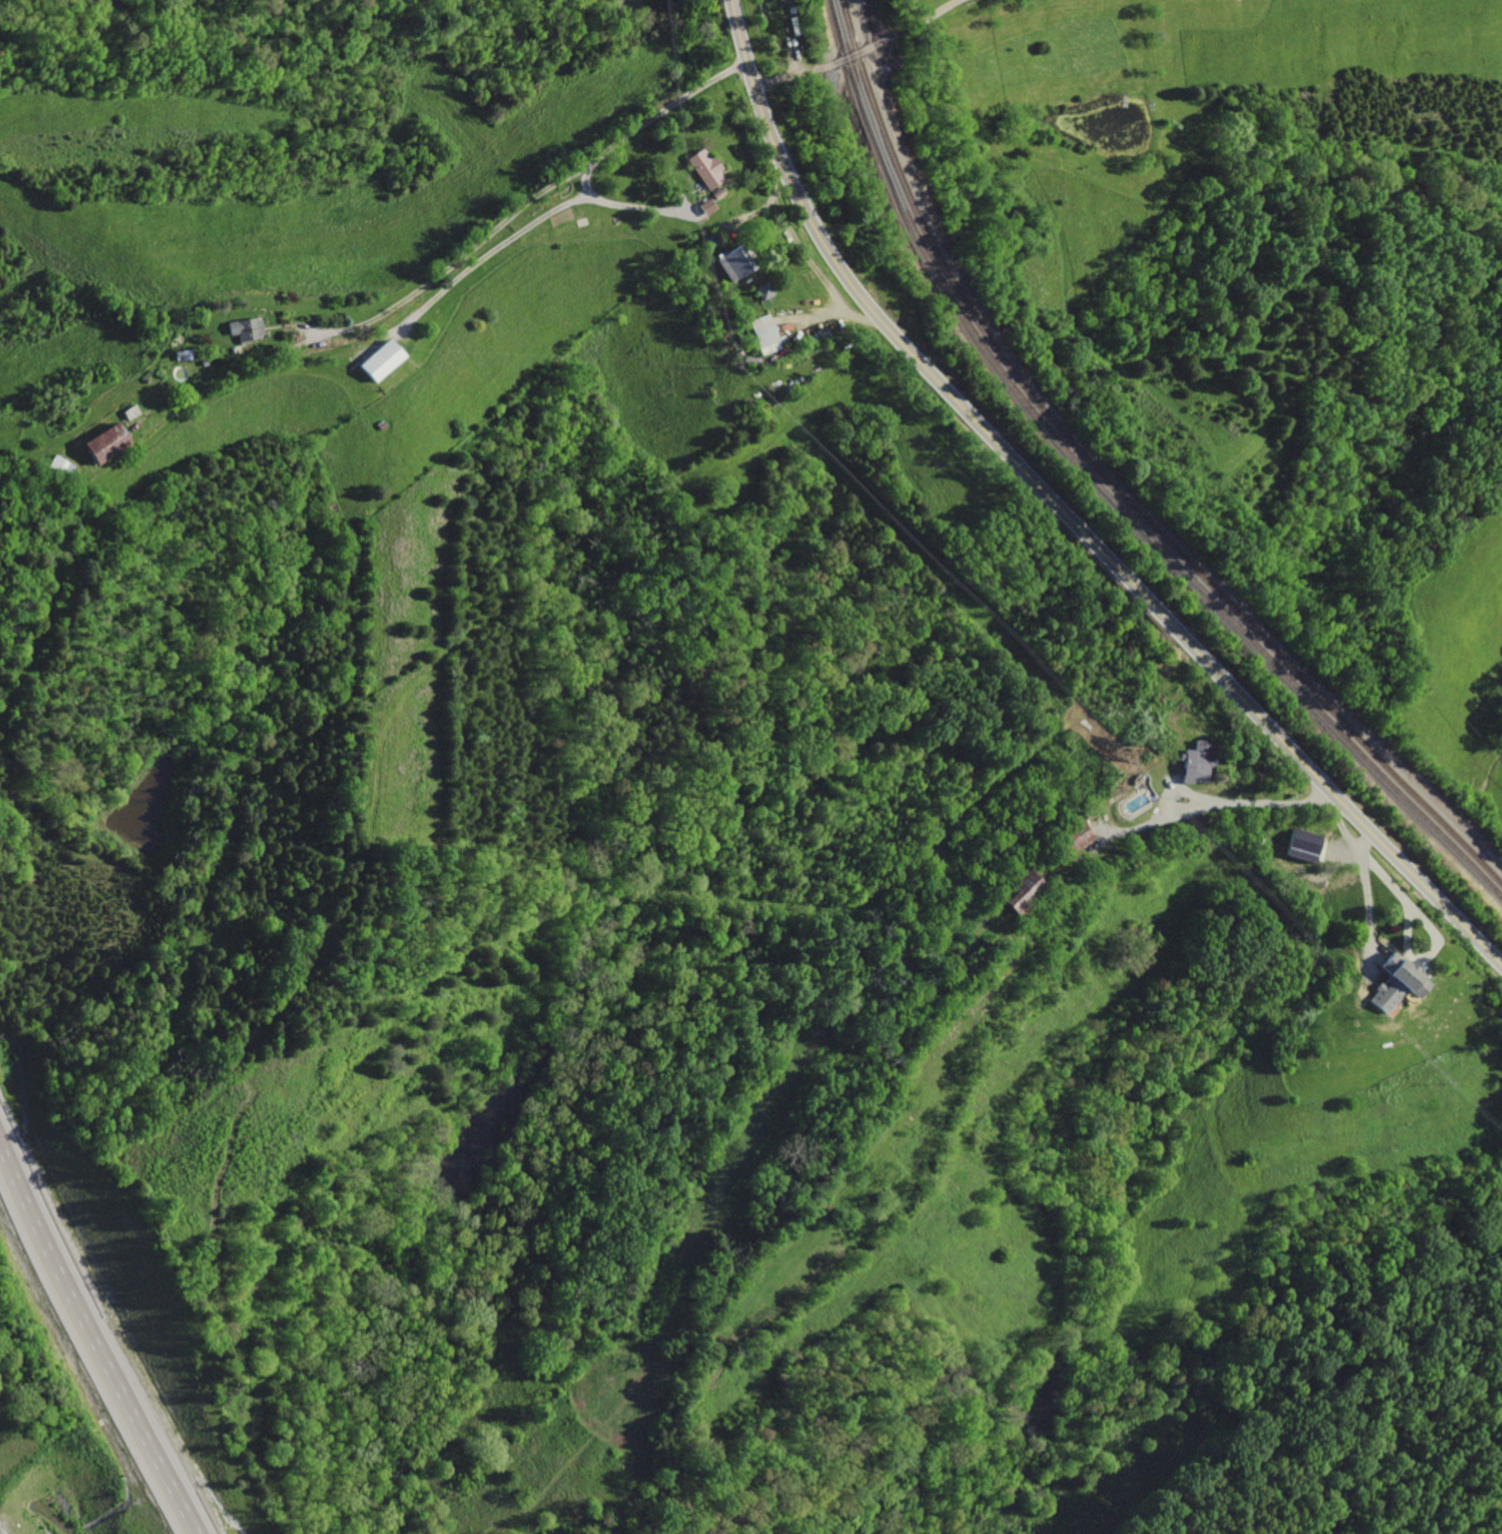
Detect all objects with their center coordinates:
road: (834, 62)
road: (620, 140)
building: (699, 167)
building: (701, 207)
building: (728, 265)
building: (241, 328)
building: (760, 334)
building: (376, 360)
building: (94, 442)
building: (55, 466)
railway: (1109, 483)
railway: (1103, 490)
road: (1066, 515)
road: (1116, 727)
building: (1189, 761)
building: (1070, 838)
building: (1304, 846)
building: (1010, 890)
building: (1390, 983)
road: (105, 1323)

